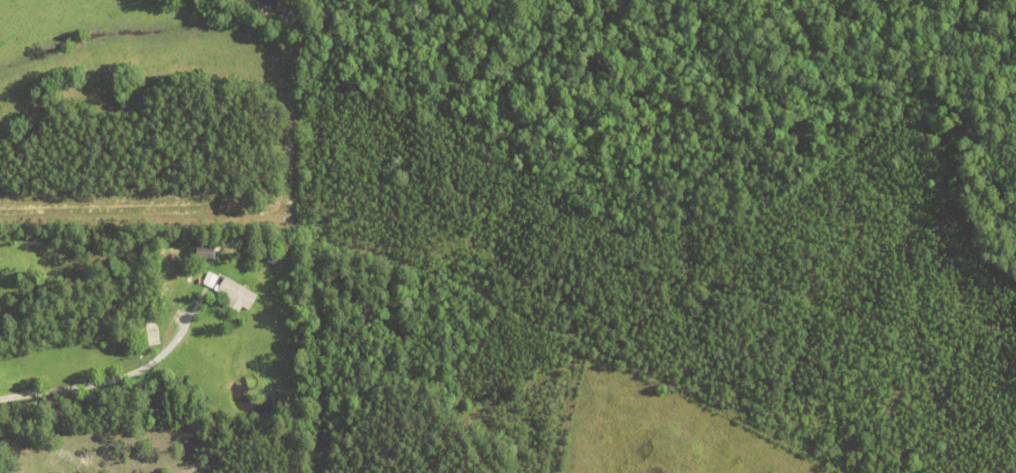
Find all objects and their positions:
building: (206, 253)
building: (210, 280)
building: (236, 295)
road: (108, 381)

